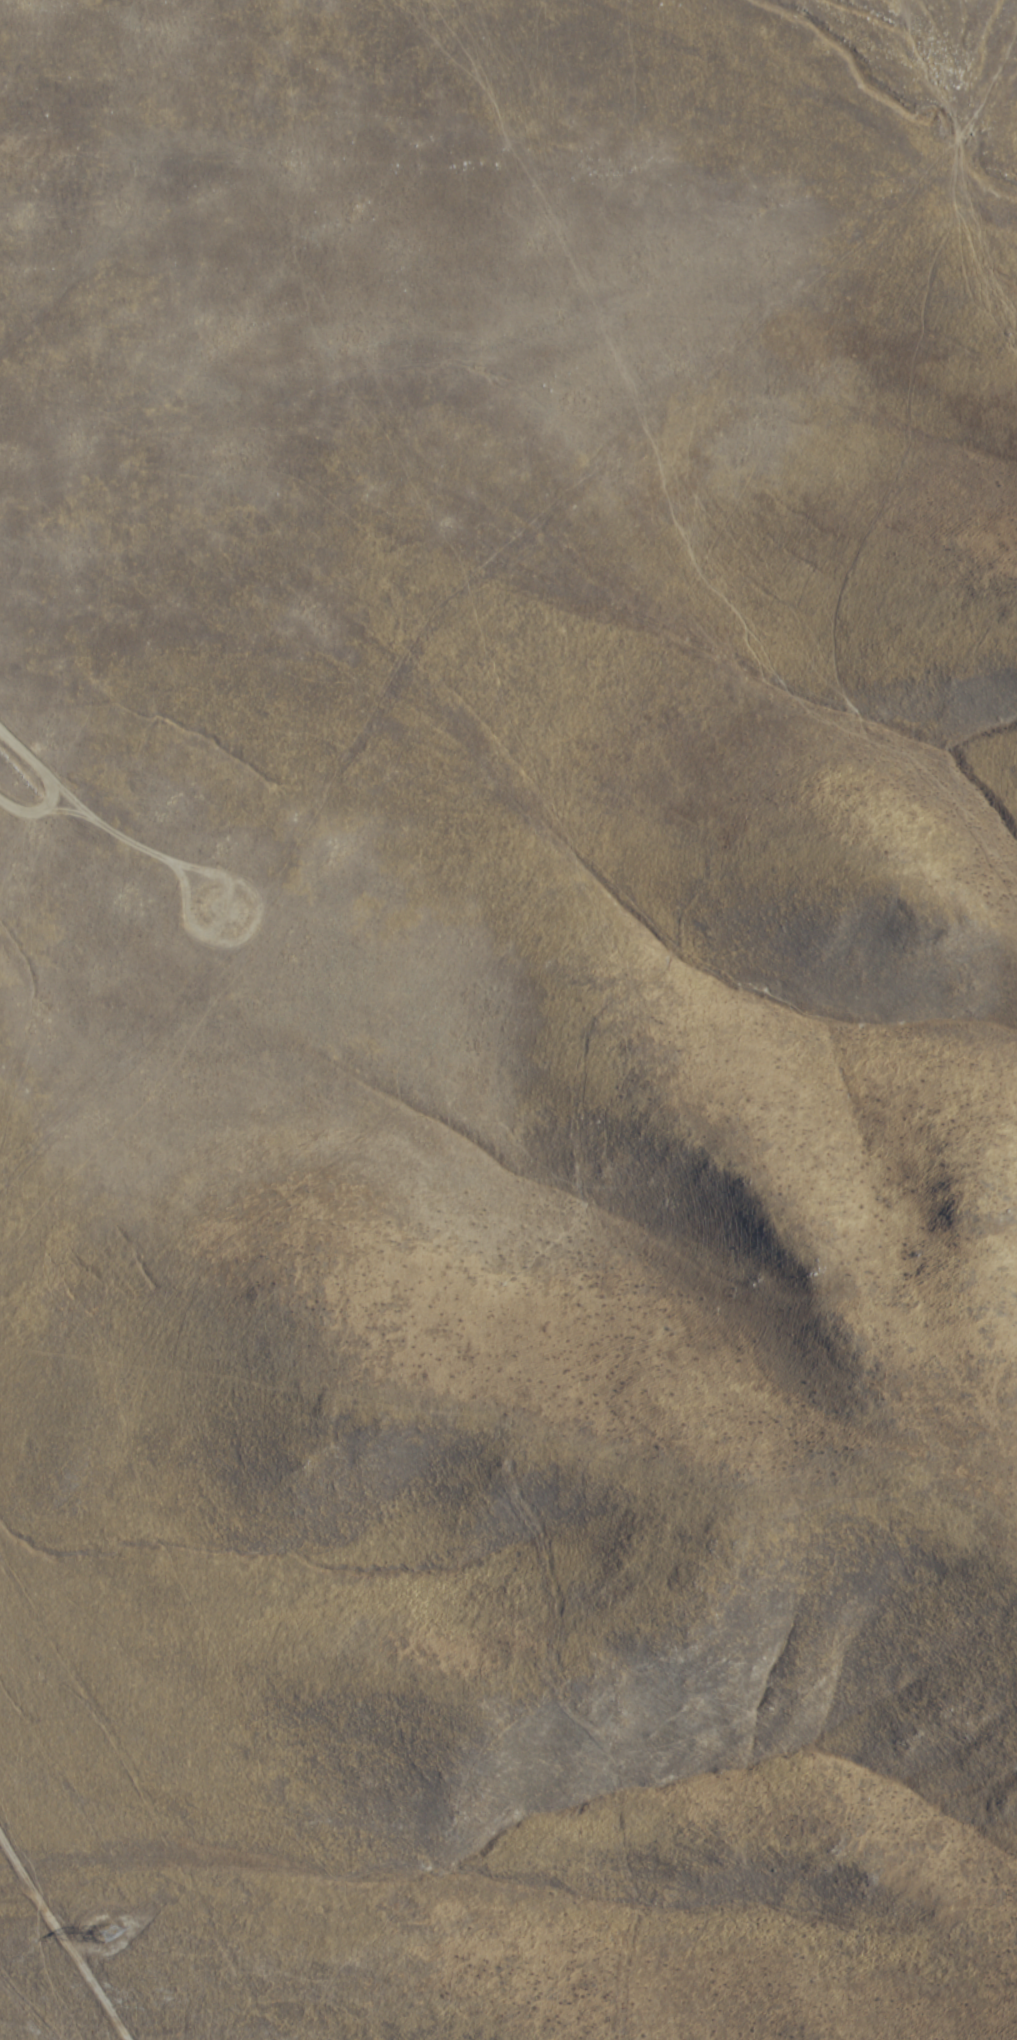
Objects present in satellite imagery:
power tower: (108, 1934)

